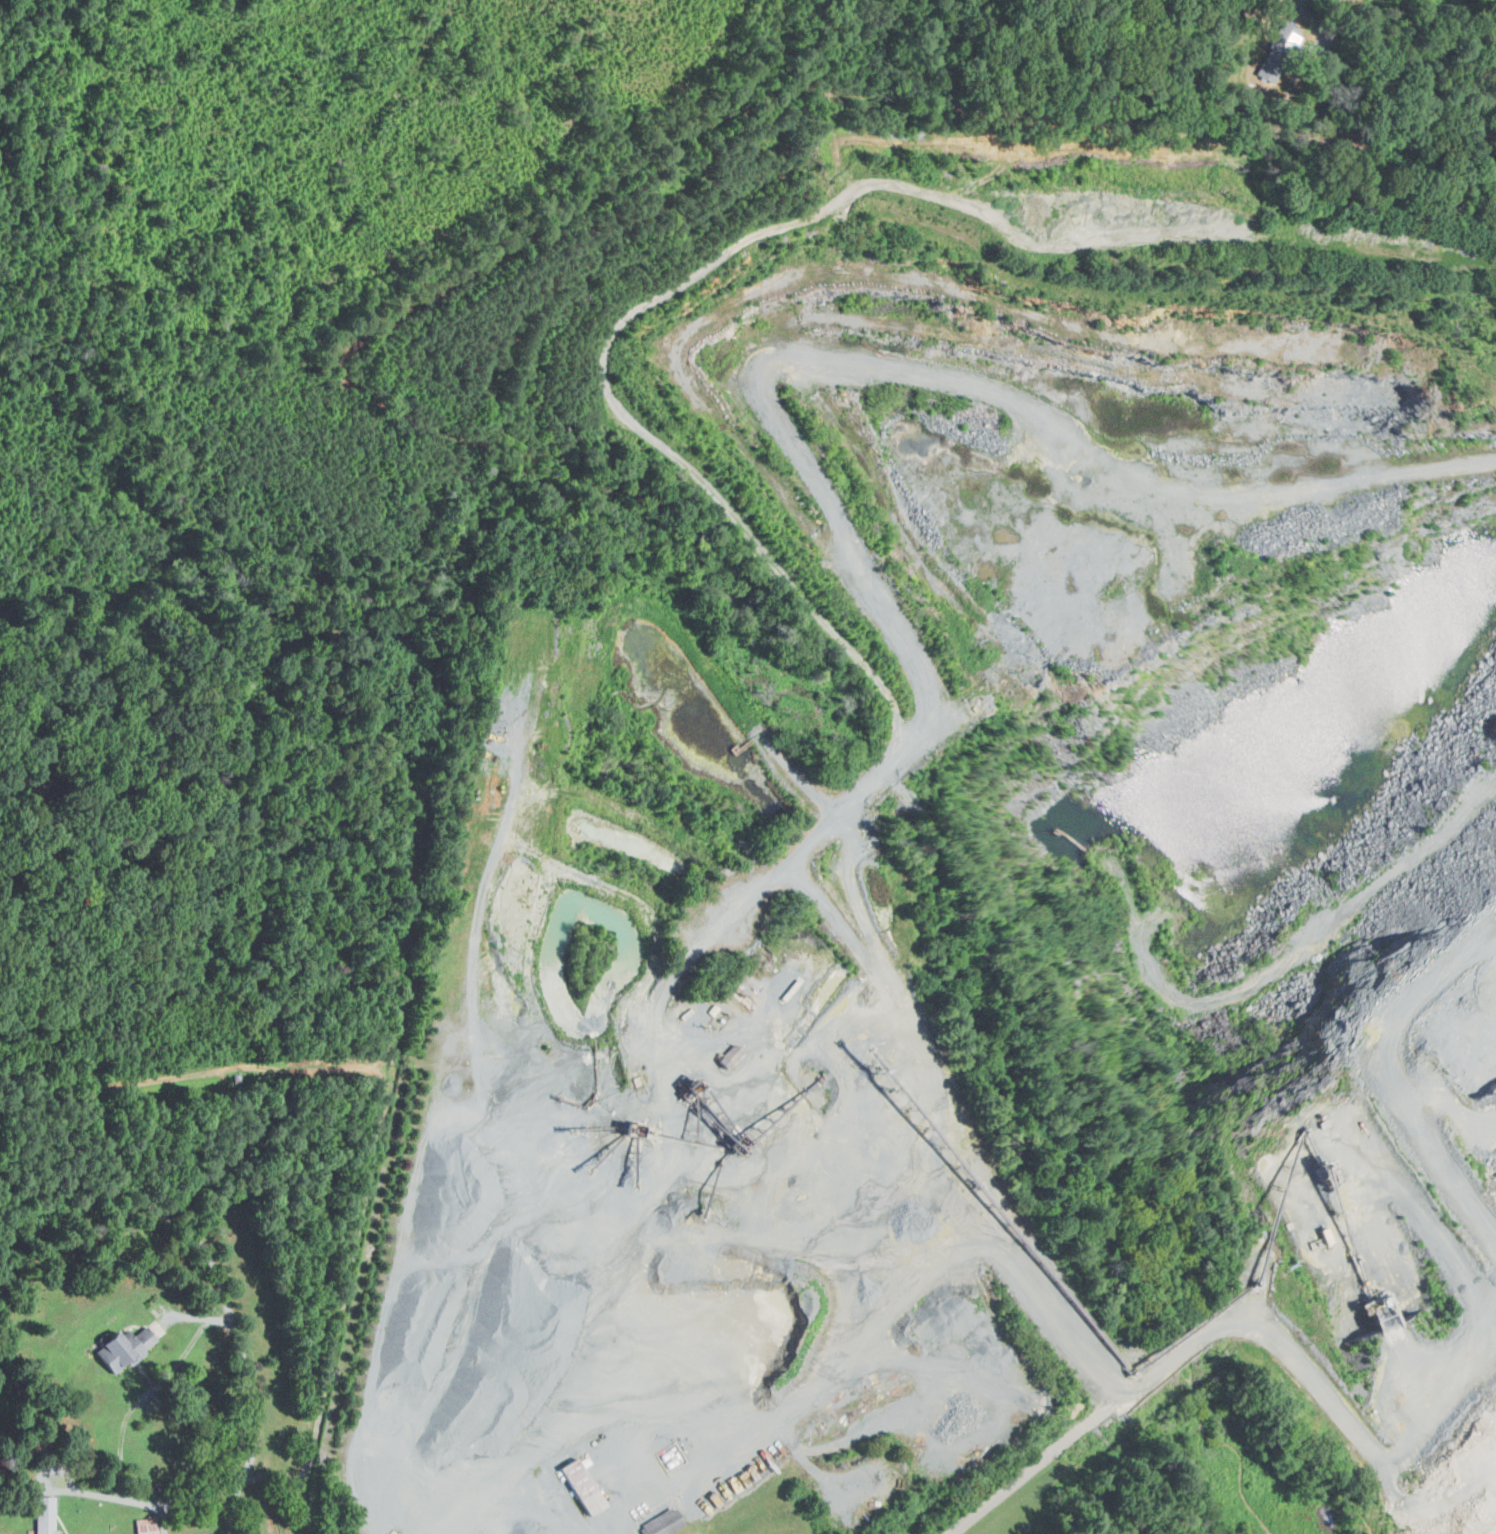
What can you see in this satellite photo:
building: (1285, 36)
quarry: (964, 852)
building: (725, 1057)
road: (1424, 1107)
road: (131, 1165)
building: (118, 1347)
road: (1289, 1359)
road: (130, 1399)
road: (761, 1401)
road: (1039, 1462)
road: (626, 1477)
building: (575, 1487)
road: (188, 1498)
building: (43, 1515)
building: (659, 1523)

